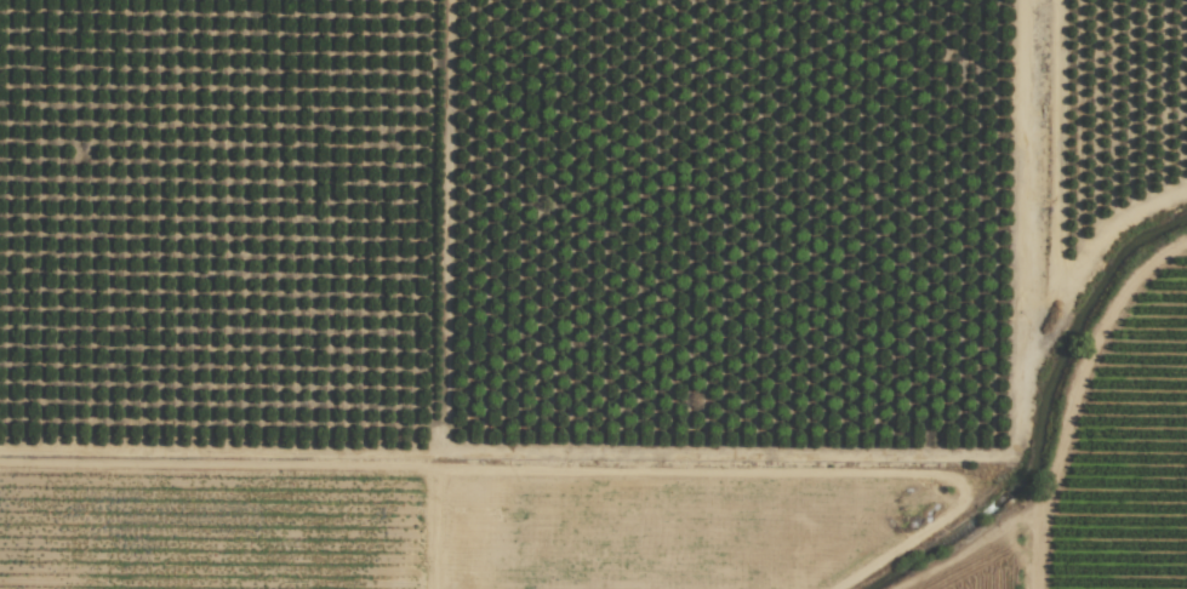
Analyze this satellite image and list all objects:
road: (1038, 244)

